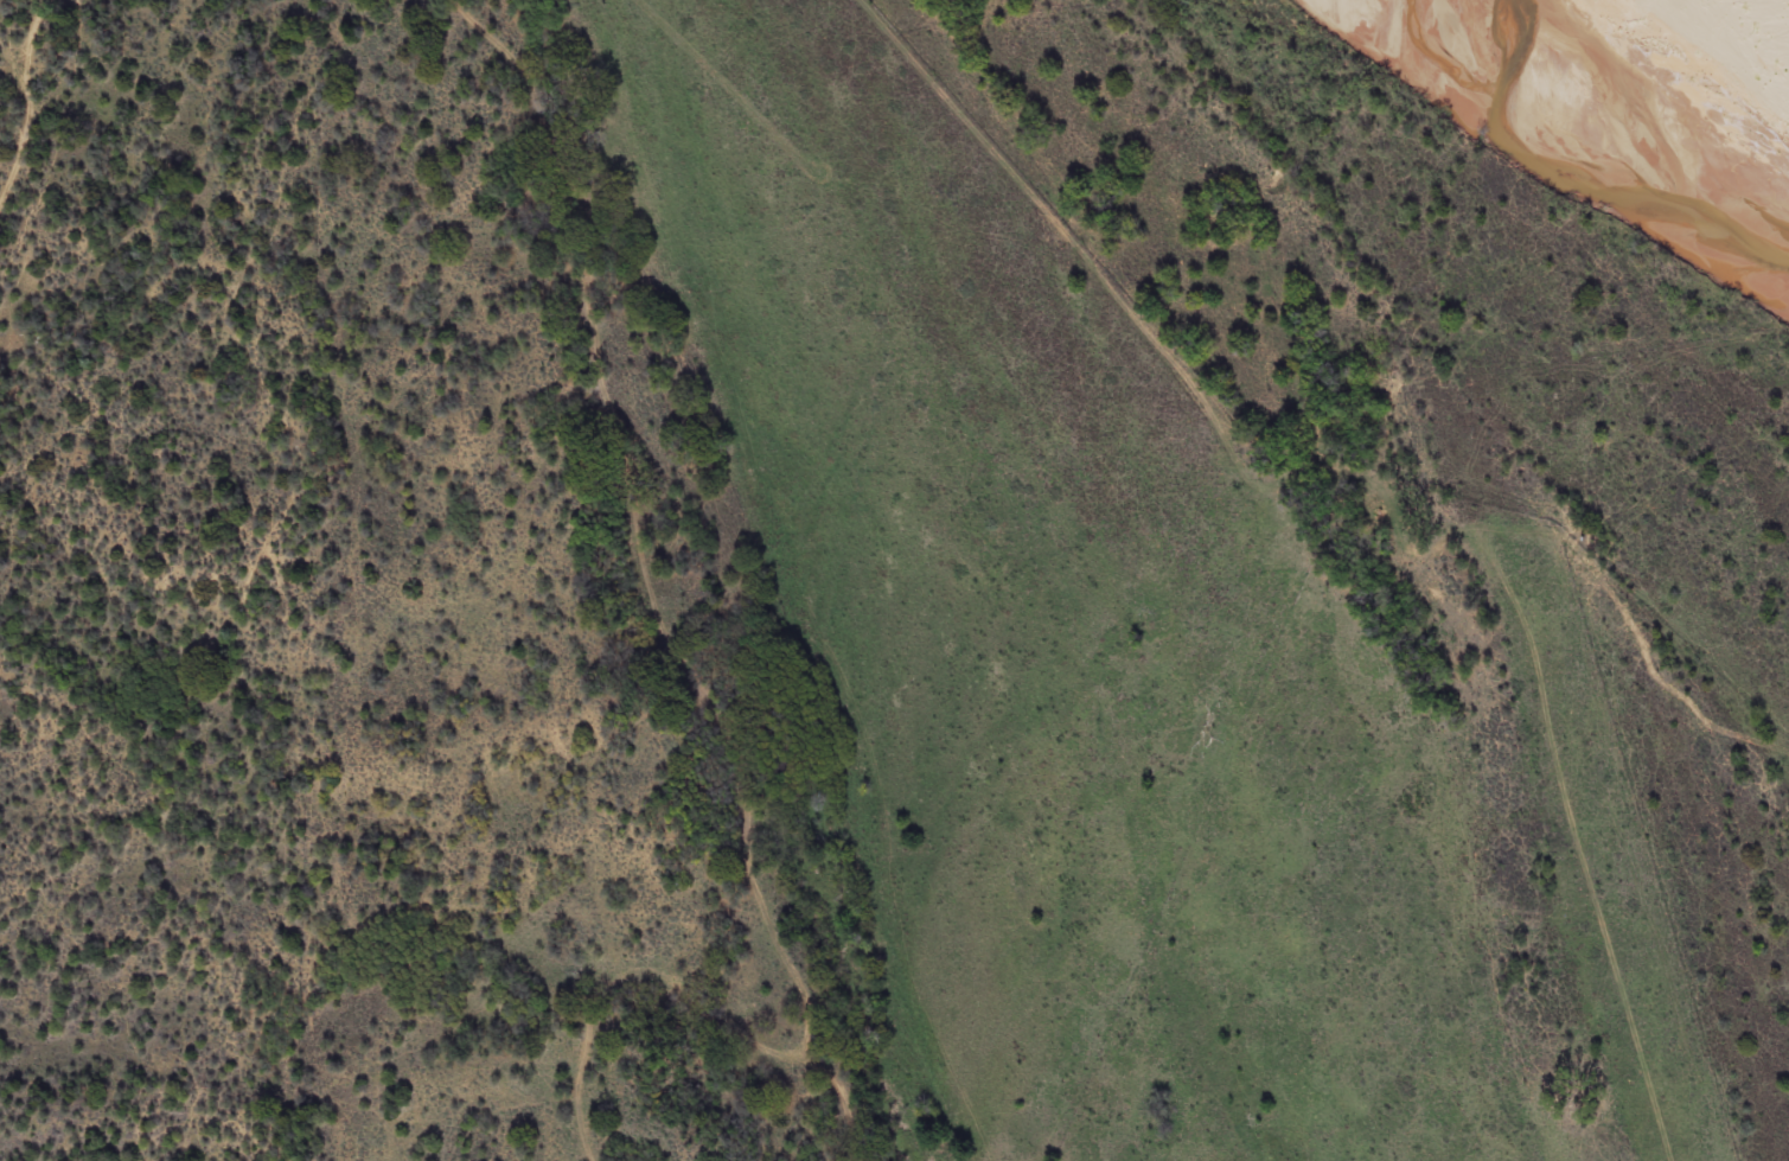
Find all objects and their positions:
river: (1784, 2)
road: (30, 128)

